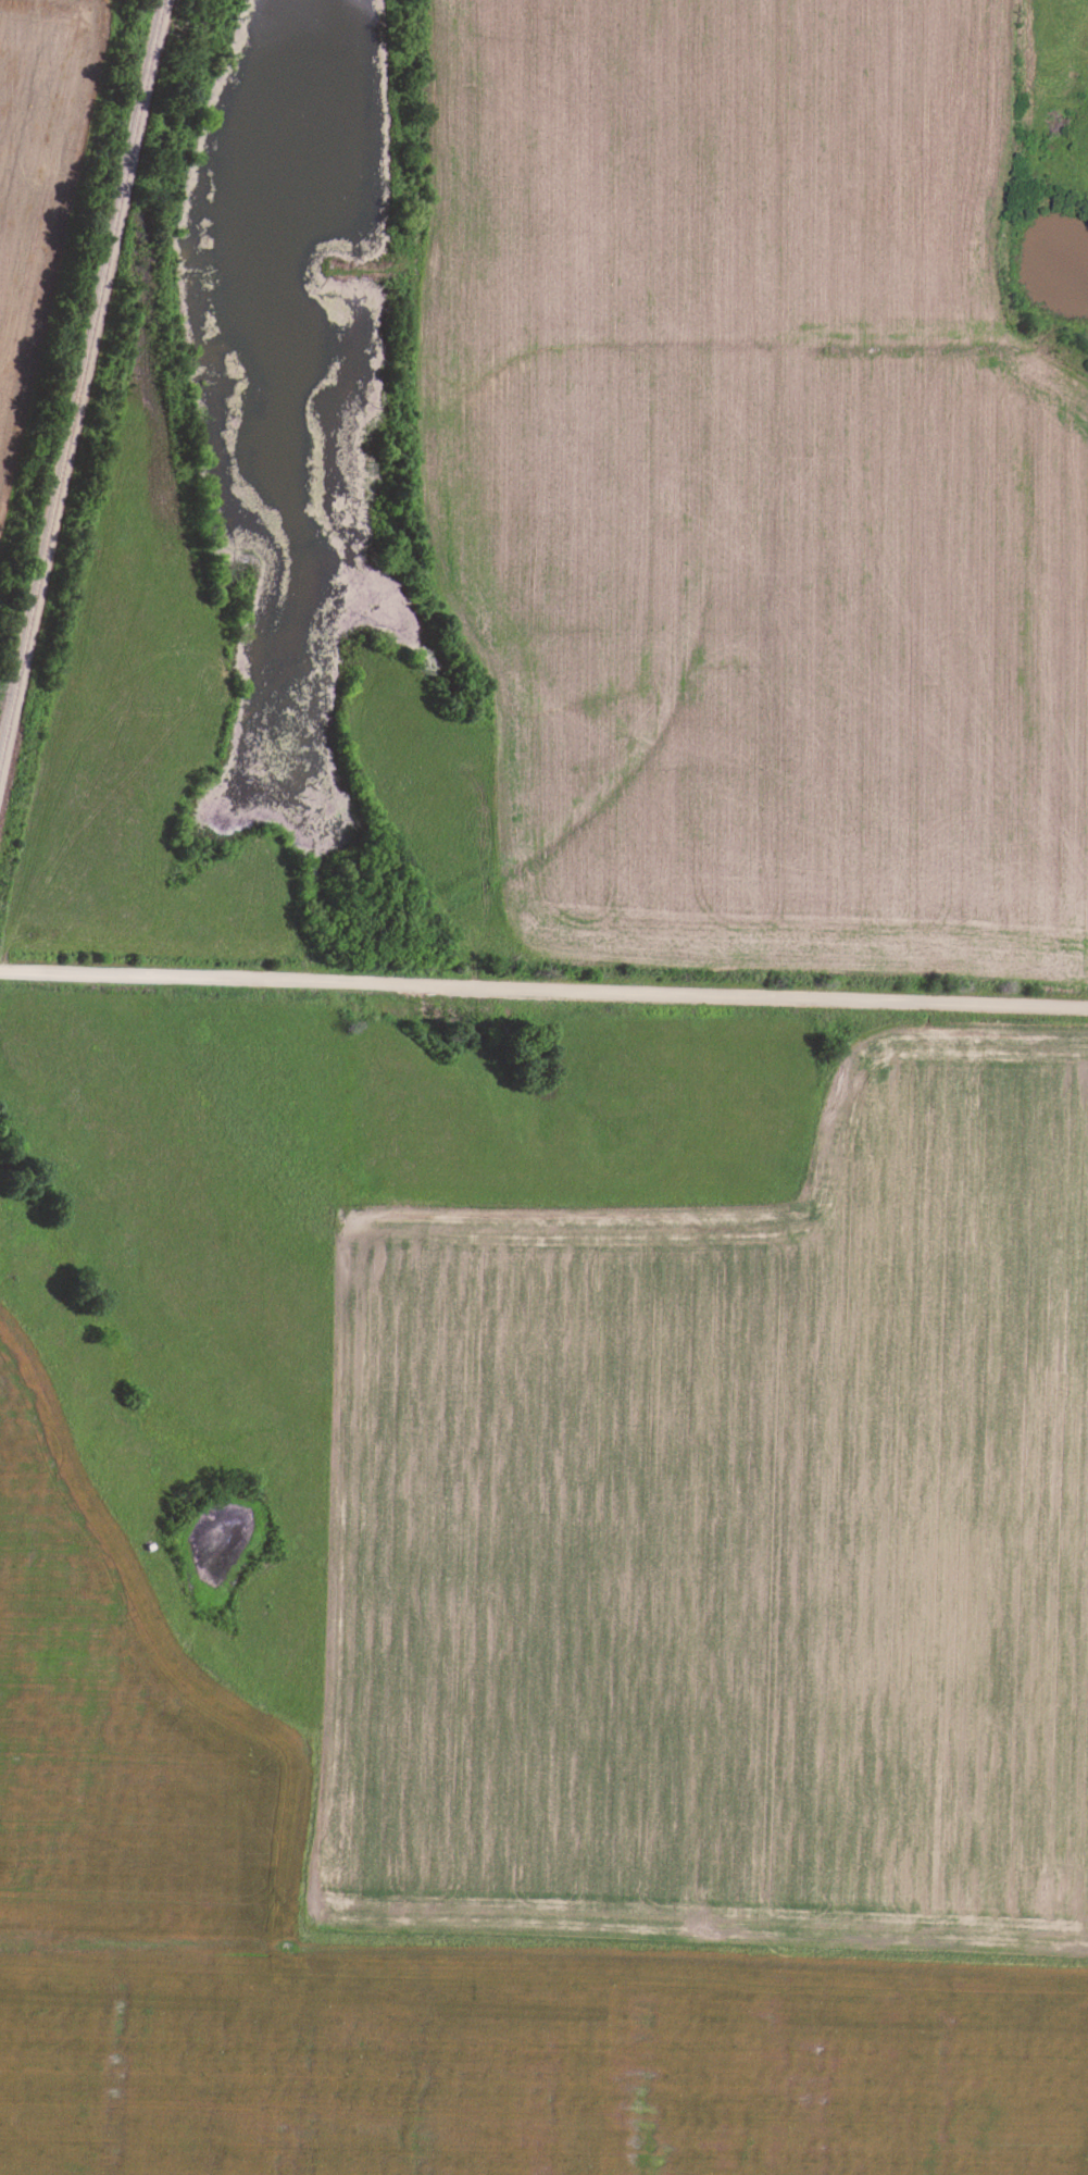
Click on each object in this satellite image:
railway: (80, 376)
road: (543, 992)

